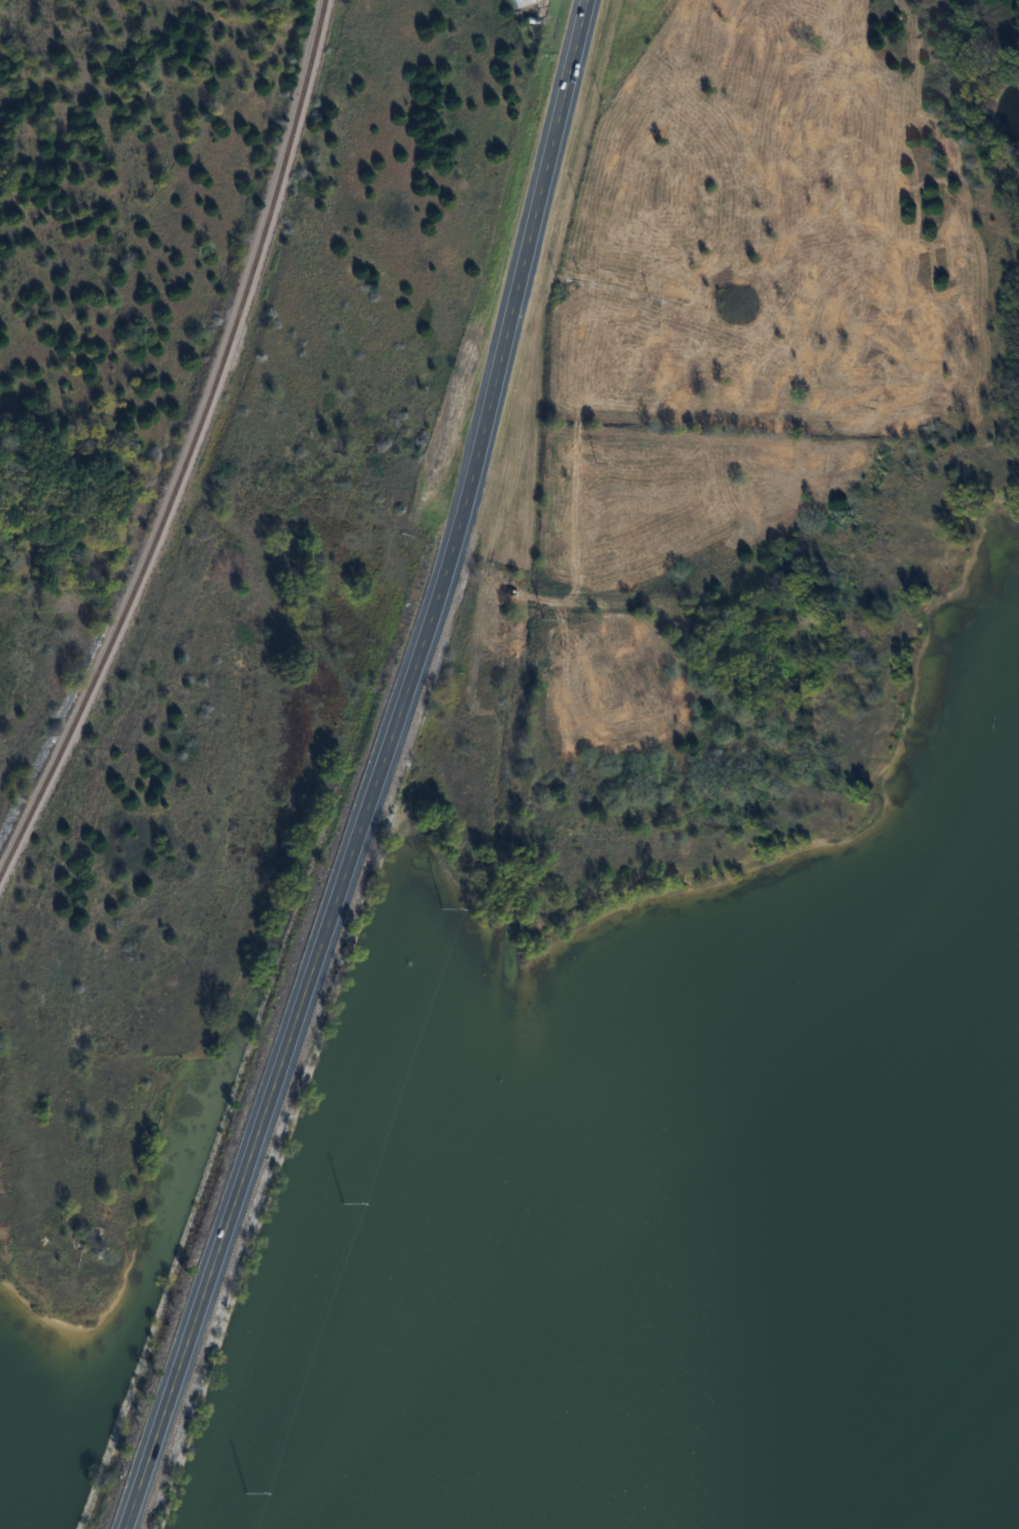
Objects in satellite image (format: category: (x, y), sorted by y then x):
building: (513, 0)
railway: (186, 440)
road: (379, 772)

